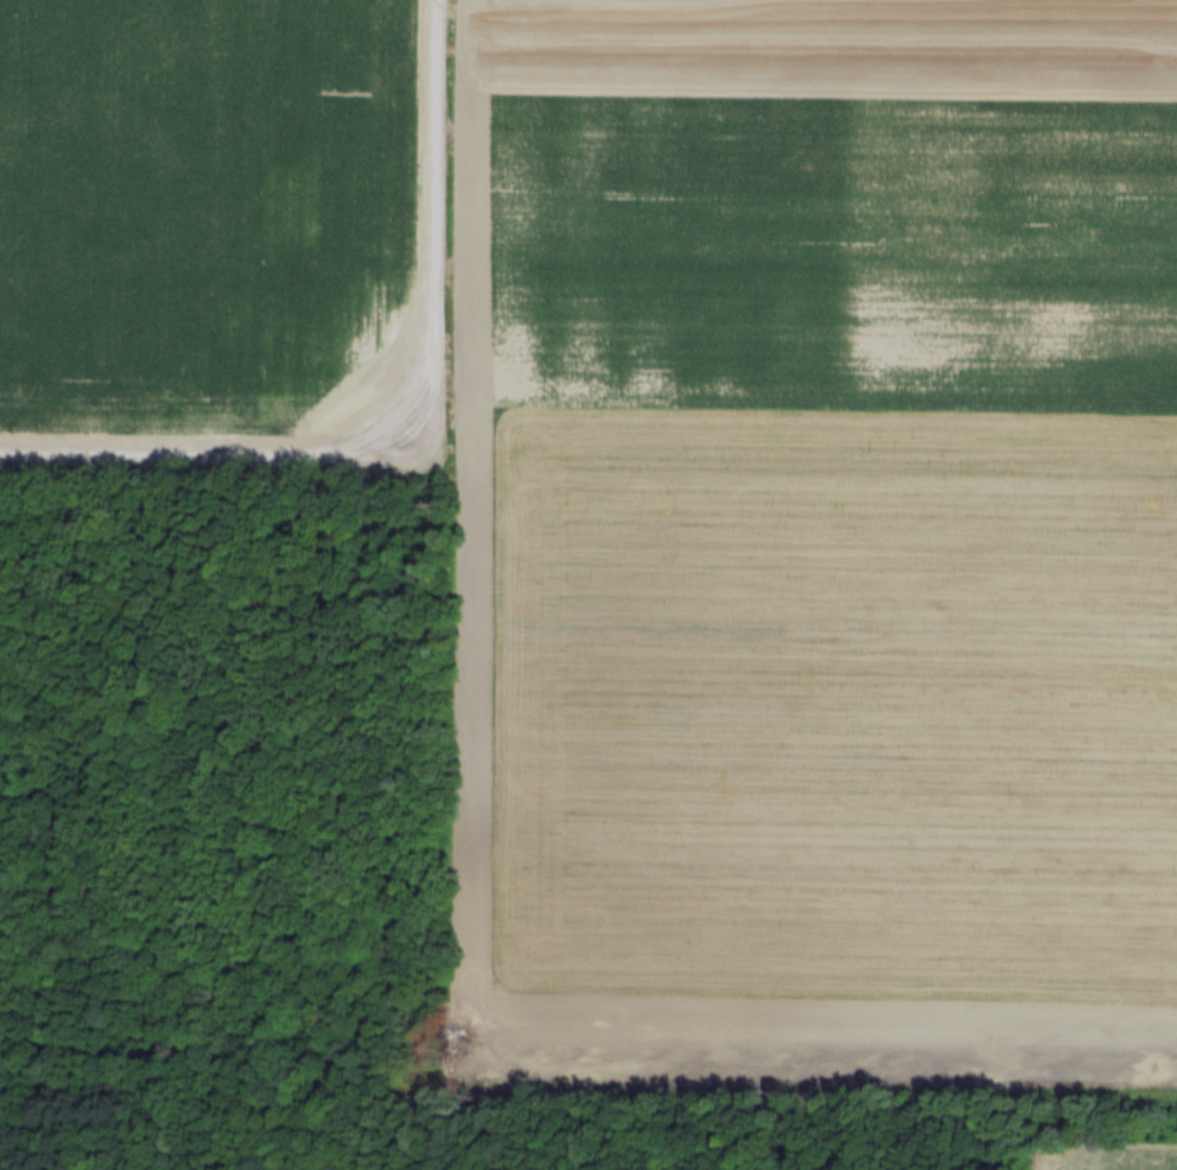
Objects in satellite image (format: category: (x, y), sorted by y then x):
road: (425, 436)
railway: (588, 1089)

